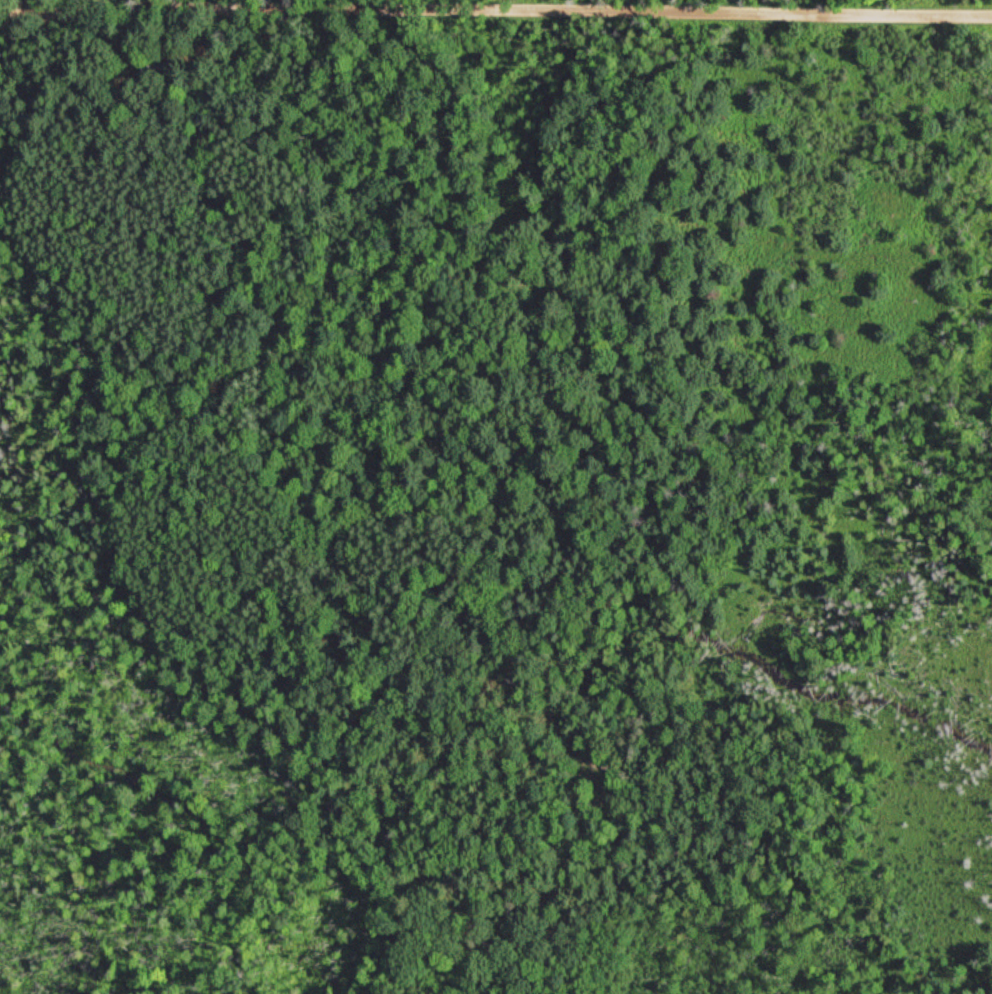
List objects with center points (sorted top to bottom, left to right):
road: (496, 6)

